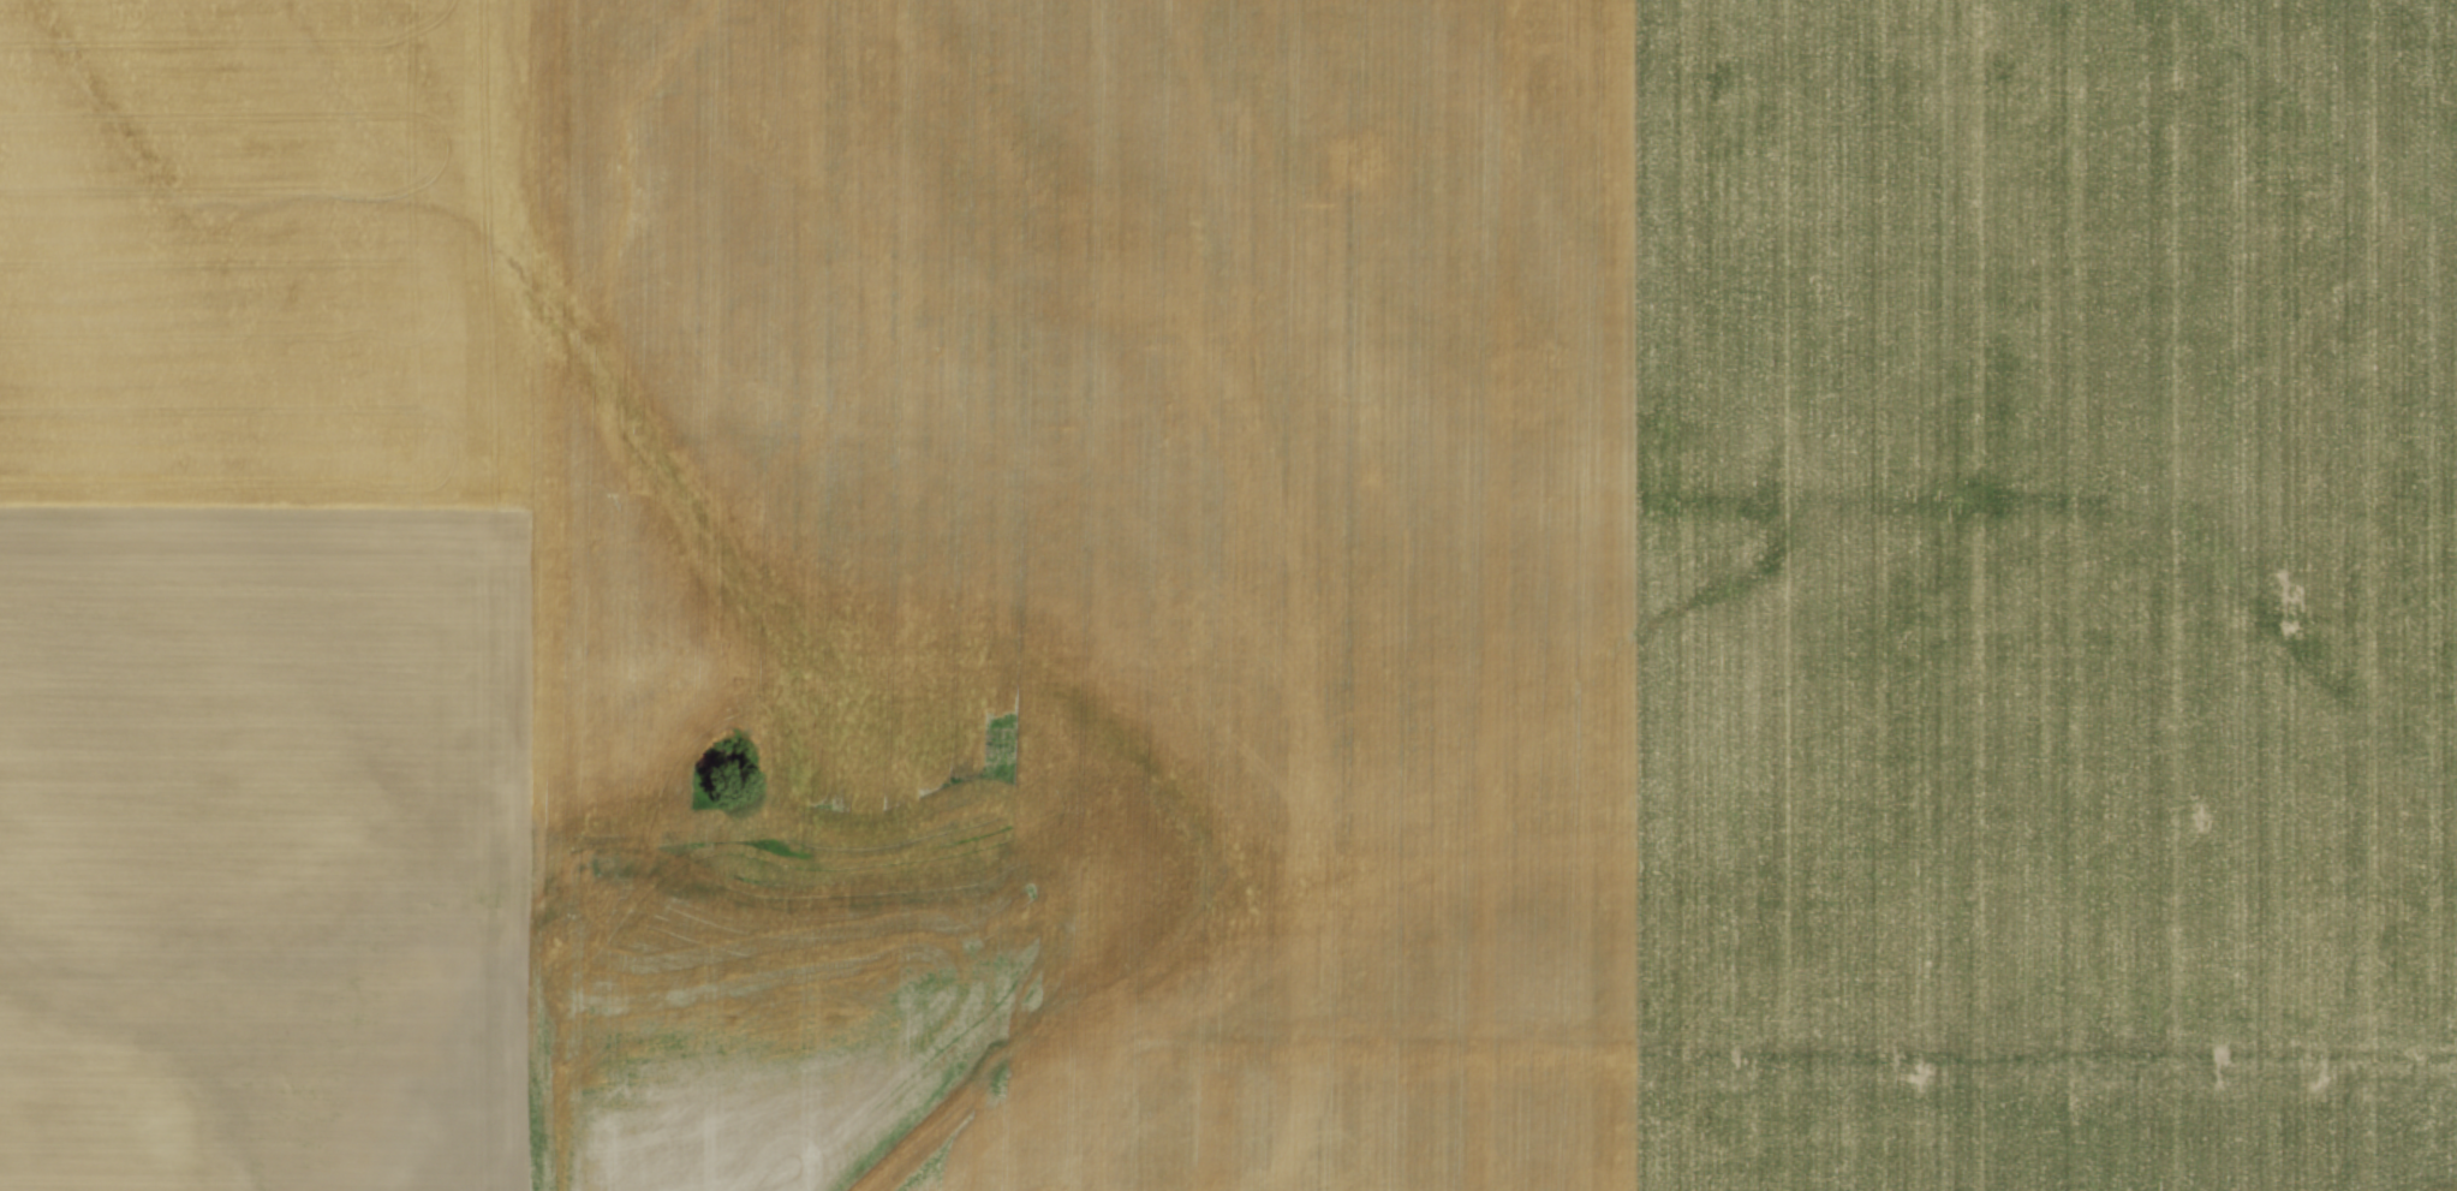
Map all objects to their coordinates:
crop: (1250, 577)

